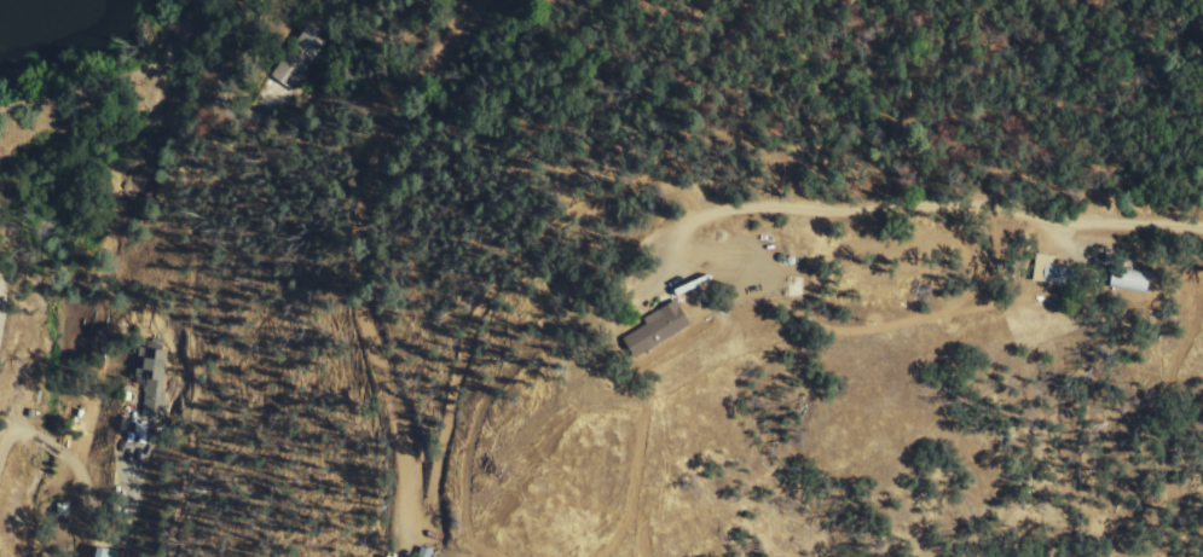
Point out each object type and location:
building: (300, 59)
road: (230, 64)
road: (114, 77)
road: (931, 203)
building: (1149, 249)
building: (1062, 272)
building: (1134, 279)
building: (667, 326)
building: (155, 379)
road: (10, 437)
road: (52, 447)
road: (102, 533)
building: (109, 553)

